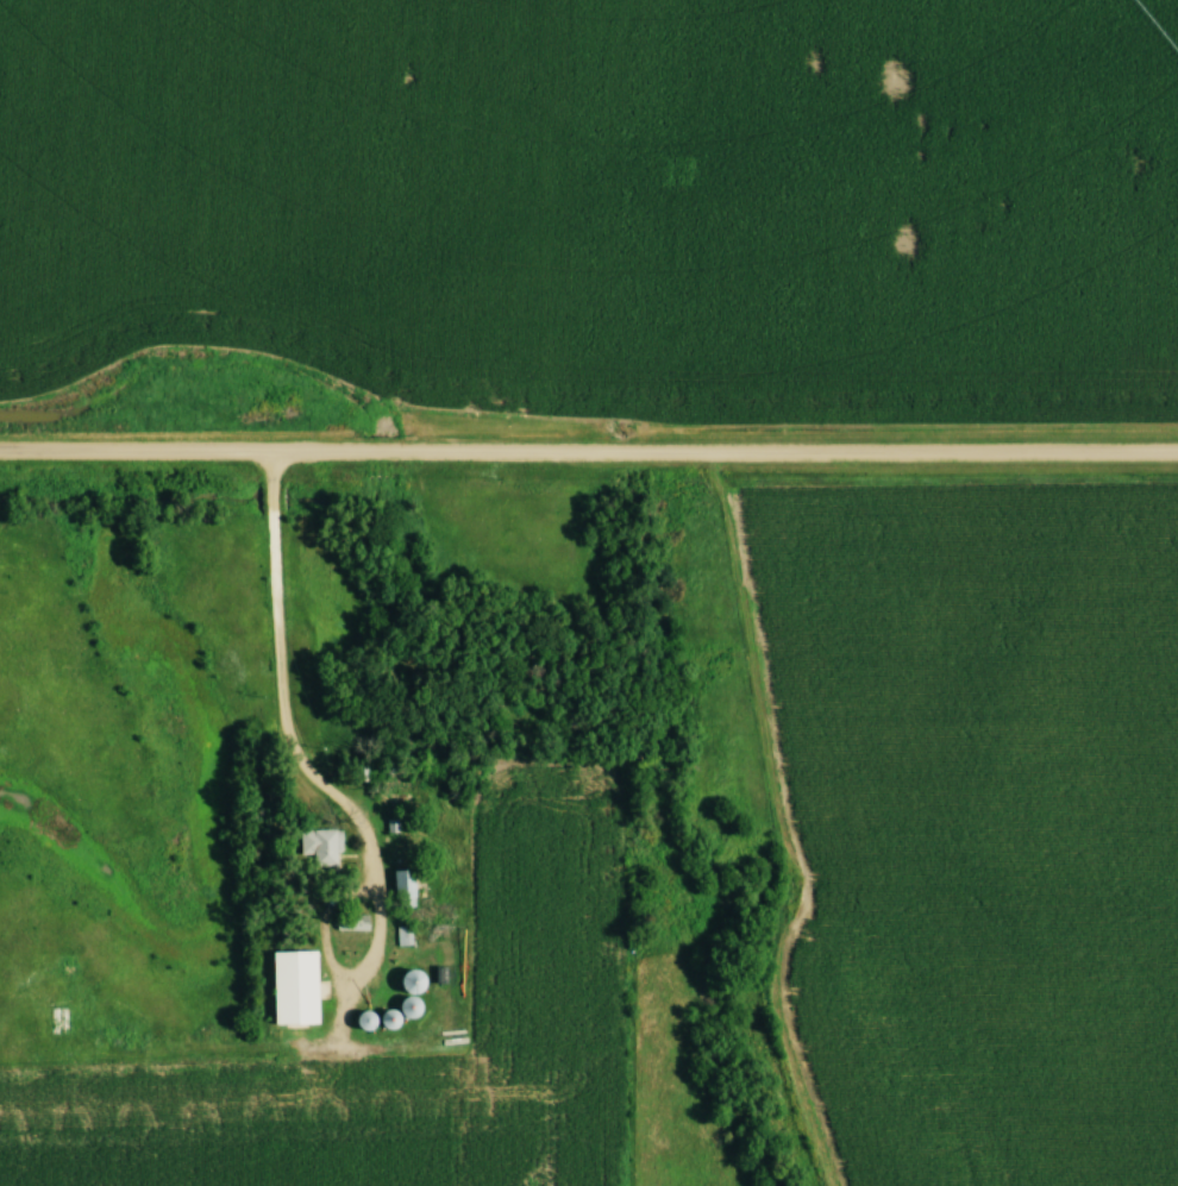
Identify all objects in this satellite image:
road: (589, 457)
road: (276, 702)
crop: (969, 824)
building: (322, 847)
building: (406, 885)
crop: (538, 912)
building: (353, 923)
building: (405, 937)
building: (416, 983)
building: (297, 989)
building: (414, 1008)
building: (394, 1021)
building: (370, 1022)

